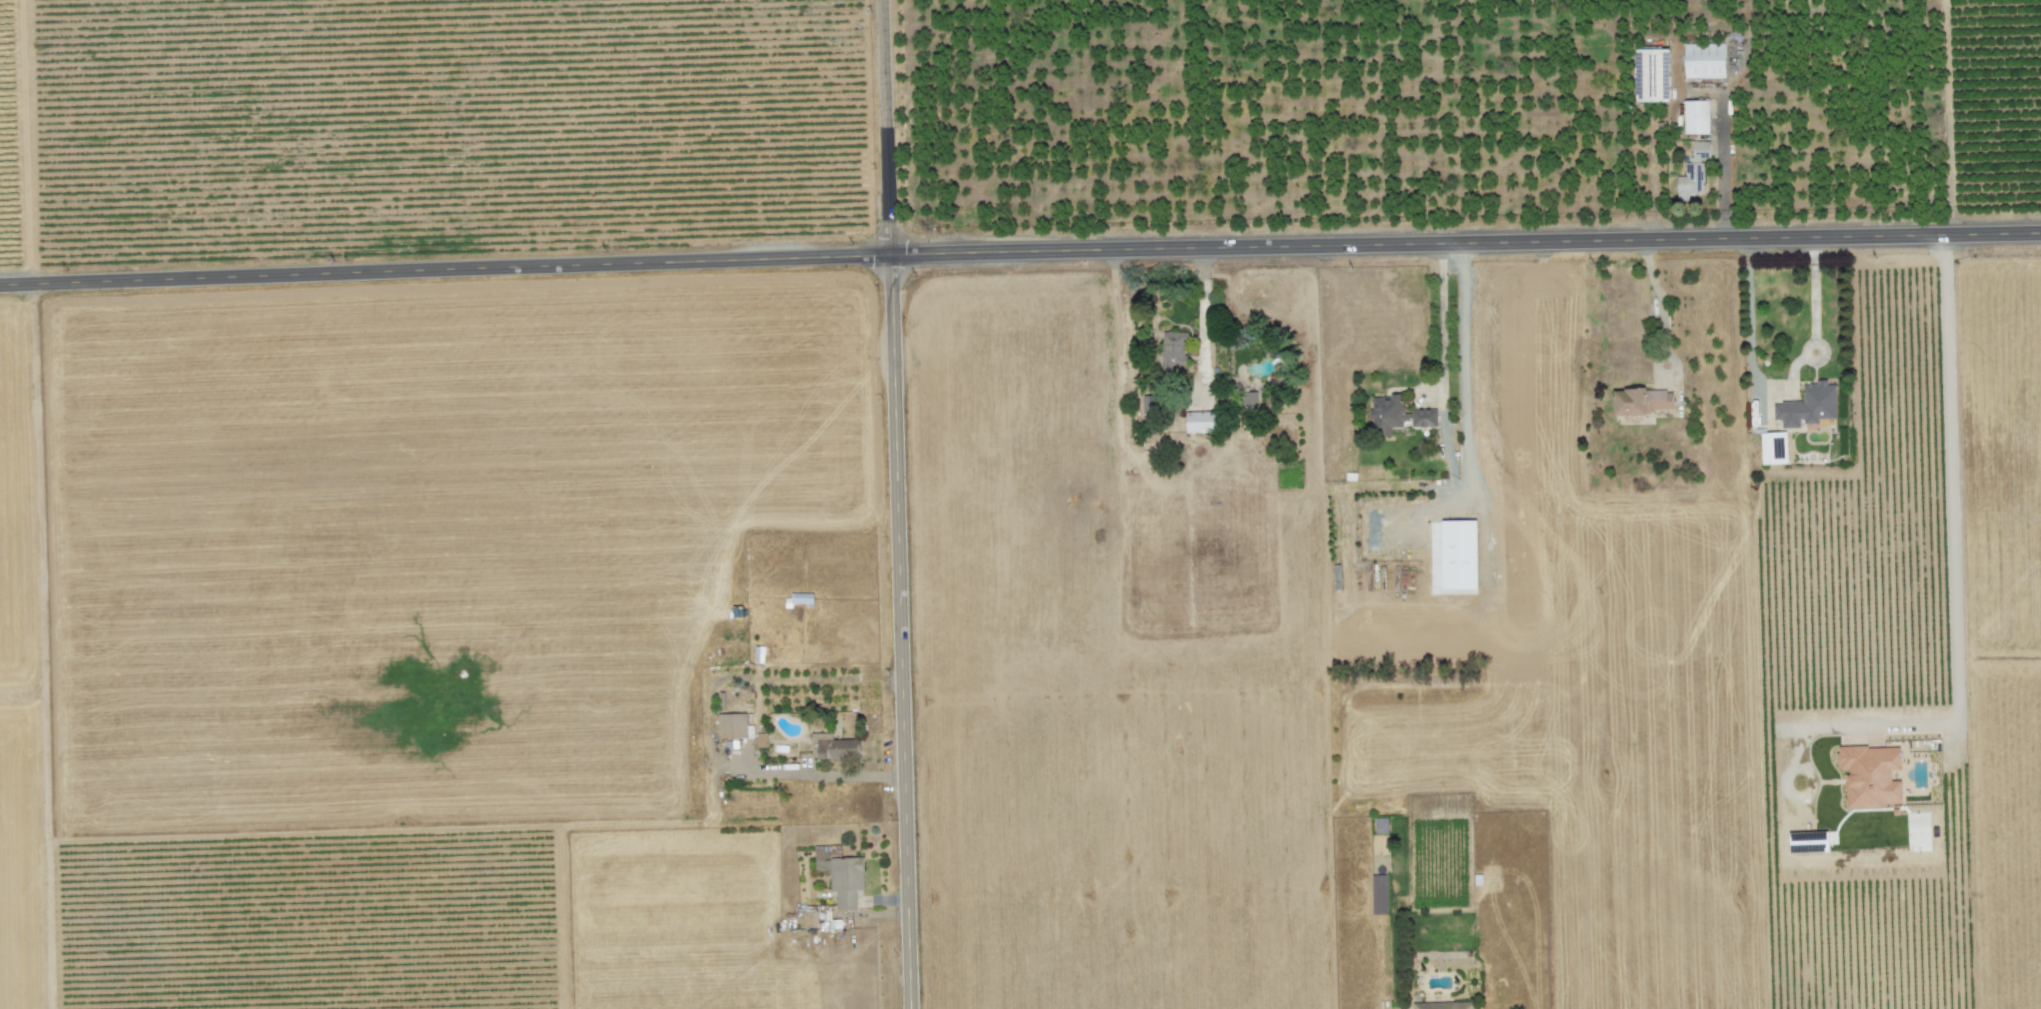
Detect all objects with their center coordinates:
building: (1704, 60)
building: (1652, 74)
building: (1696, 117)
road: (1721, 171)
building: (1693, 172)
road: (1020, 252)
road: (1813, 290)
road: (1660, 302)
road: (1202, 322)
road: (1805, 346)
building: (1172, 350)
road: (1748, 351)
road: (1458, 364)
building: (1249, 399)
building: (1643, 401)
building: (1148, 406)
building: (1808, 406)
building: (1396, 415)
building: (1201, 422)
building: (1774, 448)
road: (893, 504)
building: (1457, 558)
road: (1955, 583)
building: (801, 598)
building: (758, 655)
building: (732, 726)
building: (761, 740)
building: (833, 747)
road: (818, 774)
building: (1870, 776)
building: (1381, 826)
building: (844, 880)
building: (1379, 894)

